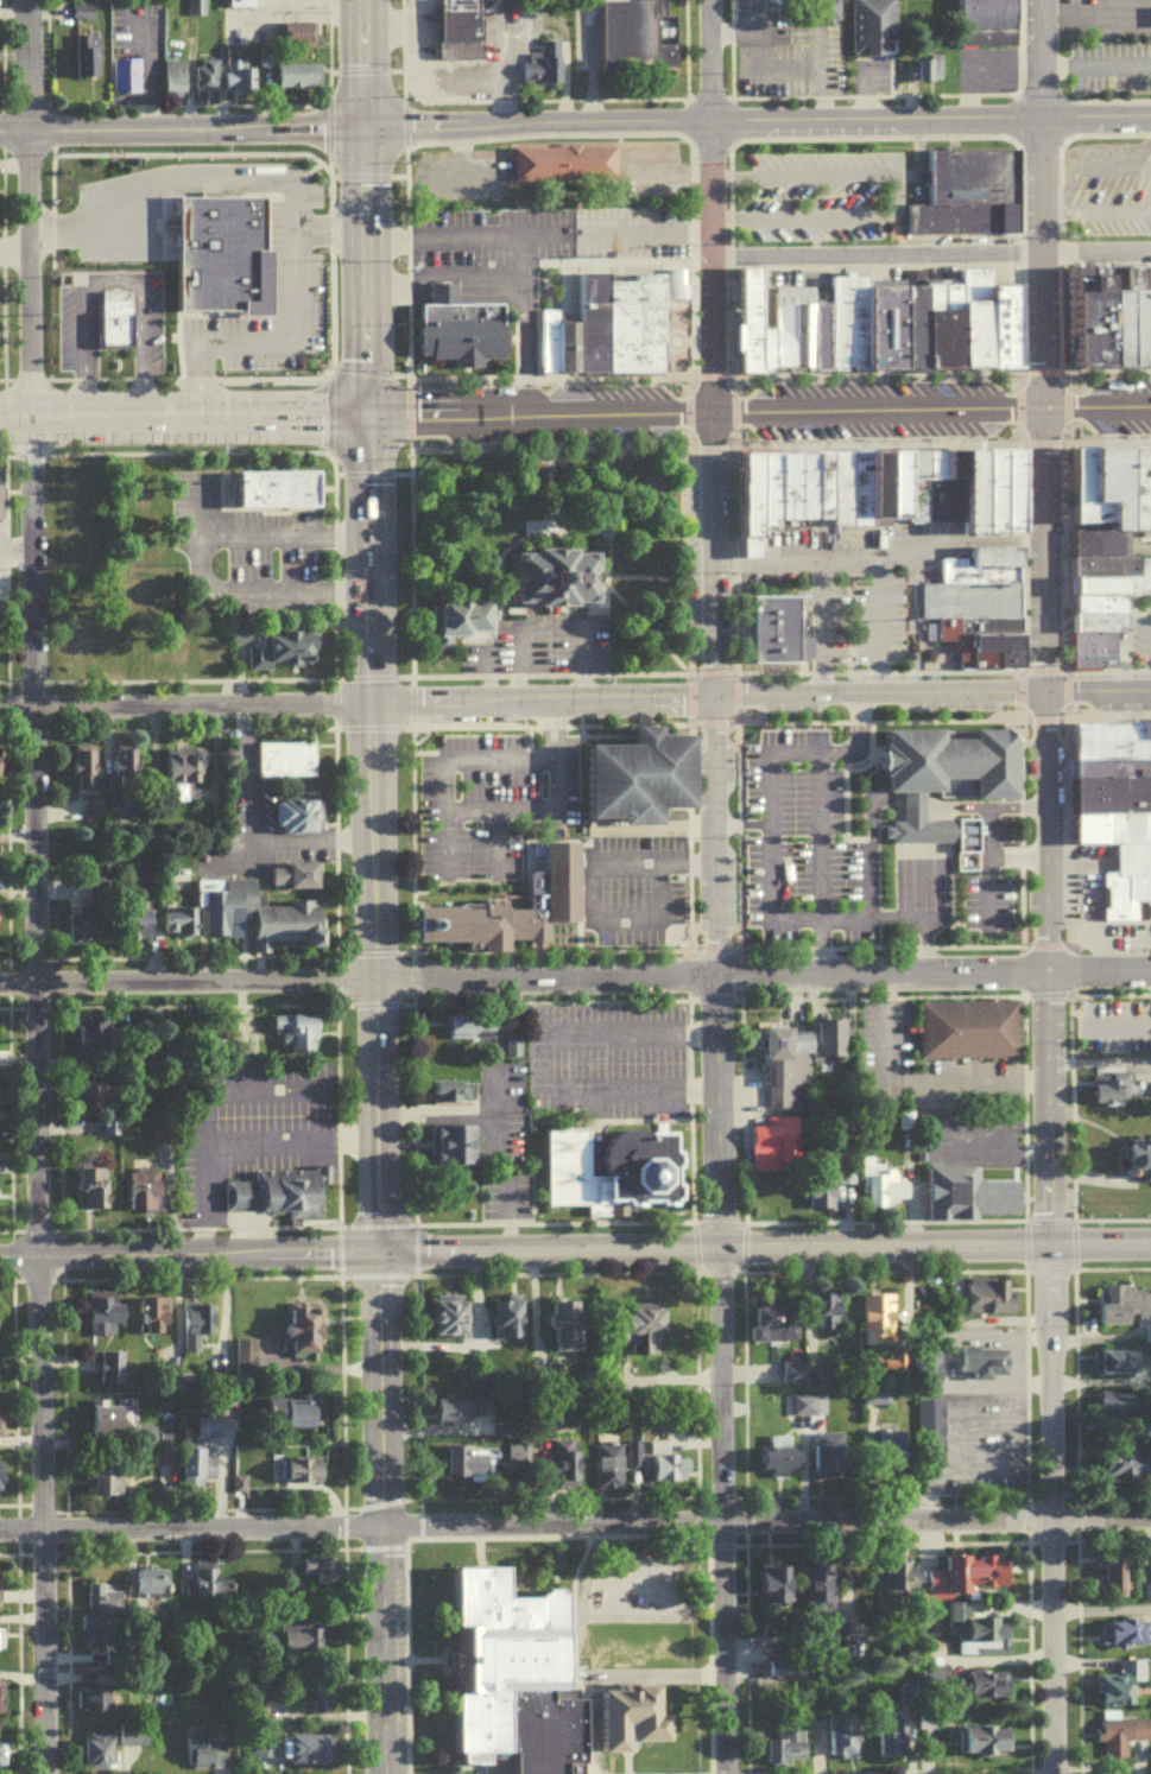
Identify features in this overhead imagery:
building: (239, 2)
building: (190, 6)
building: (76, 7)
road: (10, 9)
building: (822, 9)
building: (980, 13)
parking lot: (1099, 15)
building: (86, 18)
parking lot: (754, 18)
parking lot: (255, 19)
road: (1079, 19)
building: (866, 24)
building: (456, 28)
parking lot: (419, 30)
building: (292, 31)
parking lot: (584, 34)
building: (633, 34)
building: (967, 34)
building: (994, 34)
street lamp: (1108, 36)
road: (401, 40)
parking lot: (506, 40)
parking lot: (129, 43)
road: (1017, 45)
road: (42, 50)
road: (684, 50)
road: (729, 50)
road: (883, 51)
road: (10, 52)
building: (81, 55)
building: (260, 55)
road: (589, 61)
parking lot: (789, 61)
road: (974, 61)
road: (1095, 62)
road: (363, 63)
building: (538, 63)
parking lot: (1109, 64)
road: (887, 65)
parking lot: (982, 65)
building: (924, 68)
building: (292, 71)
parking lot: (868, 72)
building: (119, 74)
building: (202, 74)
building: (234, 75)
building: (169, 76)
building: (128, 81)
building: (301, 81)
road: (561, 81)
building: (177, 83)
road: (906, 88)
road: (182, 89)
road: (403, 91)
road: (871, 93)
road: (1043, 94)
road: (261, 95)
road: (708, 95)
road: (198, 96)
road: (120, 97)
road: (227, 97)
road: (543, 97)
road: (1111, 97)
road: (233, 103)
road: (0, 104)
road: (1070, 115)
road: (1094, 115)
road: (1014, 116)
road: (685, 120)
road: (700, 120)
road: (731, 123)
road: (182, 127)
traffic signals: (363, 127)
parking lot: (830, 128)
road: (647, 132)
road: (1037, 141)
road: (731, 144)
road: (708, 147)
building: (557, 161)
road: (10, 163)
building: (1108, 173)
parking lot: (1105, 184)
road: (290, 191)
parking lot: (818, 191)
road: (894, 191)
building: (963, 191)
road: (1038, 202)
road: (708, 203)
building: (140, 209)
road: (19, 210)
road: (650, 228)
road: (328, 230)
parking lot: (627, 230)
road: (523, 245)
parking lot: (488, 248)
road: (10, 253)
building: (219, 256)
road: (929, 256)
road: (1054, 258)
road: (366, 270)
road: (331, 272)
road: (444, 273)
road: (109, 278)
road: (436, 280)
building: (671, 280)
road: (388, 290)
road: (436, 290)
road: (463, 291)
building: (1145, 313)
building: (112, 316)
building: (968, 317)
building: (1121, 317)
building: (1084, 318)
road: (536, 322)
building: (845, 322)
building: (744, 323)
building: (790, 324)
building: (611, 325)
building: (937, 325)
building: (456, 327)
building: (891, 329)
building: (998, 329)
building: (817, 334)
building: (258, 337)
building: (545, 337)
building: (764, 348)
road: (1035, 370)
road: (708, 373)
road: (473, 375)
street lamp: (1100, 376)
street lamp: (1136, 376)
road: (4, 378)
road: (182, 378)
road: (1060, 404)
road: (1095, 405)
road: (689, 406)
road: (1016, 406)
road: (406, 407)
road: (703, 408)
road: (734, 408)
traffic signals: (367, 412)
road: (183, 416)
road: (1041, 423)
road: (710, 424)
street lamp: (1105, 438)
street lamp: (1140, 438)
road: (1029, 439)
road: (1052, 439)
road: (549, 441)
road: (701, 441)
road: (723, 441)
road: (292, 450)
road: (2, 454)
road: (21, 454)
road: (331, 471)
road: (361, 471)
road: (398, 471)
building: (1106, 483)
building: (821, 484)
building: (877, 484)
building: (912, 484)
building: (840, 486)
building: (894, 486)
building: (930, 486)
building: (949, 486)
building: (859, 487)
building: (784, 488)
building: (803, 488)
building: (1136, 489)
building: (272, 490)
building: (755, 490)
building: (1080, 490)
building: (997, 493)
building: (968, 494)
building: (2, 500)
road: (280, 533)
road: (12, 541)
building: (747, 543)
building: (1093, 543)
road: (1141, 546)
road: (878, 553)
road: (1043, 553)
road: (713, 555)
road: (1063, 555)
road: (410, 557)
road: (25, 560)
building: (980, 564)
building: (1109, 565)
road: (643, 574)
building: (548, 577)
parking lot: (858, 584)
building: (1111, 584)
road: (230, 589)
road: (601, 593)
building: (968, 598)
building: (1095, 604)
building: (463, 615)
road: (0, 616)
road: (647, 621)
building: (1094, 622)
road: (817, 625)
road: (872, 626)
building: (774, 632)
building: (974, 640)
parking lot: (1139, 640)
parking lot: (544, 645)
building: (1092, 647)
road: (1147, 651)
building: (284, 654)
road: (668, 670)
road: (702, 670)
road: (1020, 670)
road: (1032, 670)
road: (1054, 670)
road: (726, 671)
road: (186, 678)
road: (6, 680)
road: (1065, 691)
road: (707, 692)
road: (1020, 692)
road: (1096, 692)
road: (736, 693)
road: (690, 695)
road: (412, 699)
road: (184, 702)
road: (1043, 717)
road: (713, 720)
road: (853, 736)
building: (1112, 739)
road: (765, 752)
building: (285, 756)
building: (129, 766)
building: (1113, 766)
road: (245, 769)
building: (186, 773)
building: (0, 774)
building: (87, 774)
building: (635, 780)
building: (944, 781)
building: (1113, 793)
parking lot: (489, 800)
road: (472, 803)
building: (295, 815)
road: (715, 821)
building: (1112, 826)
road: (740, 828)
road: (1065, 828)
road: (372, 834)
road: (309, 838)
road: (328, 841)
road: (1, 842)
building: (1126, 880)
road: (584, 881)
building: (297, 883)
parking lot: (632, 886)
building: (552, 887)
road: (894, 920)
building: (257, 921)
building: (181, 926)
building: (84, 930)
building: (141, 931)
road: (1020, 943)
road: (1044, 943)
road: (714, 946)
road: (816, 946)
road: (411, 949)
road: (401, 950)
road: (362, 951)
road: (186, 955)
road: (26, 957)
road: (6, 958)
road: (987, 969)
road: (1098, 969)
road: (330, 974)
road: (463, 977)
road: (1, 978)
road: (1112, 993)
road: (1049, 994)
road: (542, 1000)
road: (366, 1002)
road: (191, 1005)
road: (7, 1007)
road: (30, 1007)
building: (473, 1033)
building: (973, 1037)
building: (301, 1040)
building: (96, 1041)
building: (835, 1045)
building: (791, 1076)
road: (913, 1083)
road: (232, 1085)
building: (1113, 1094)
building: (455, 1097)
building: (97, 1100)
road: (330, 1105)
road: (1026, 1107)
road: (406, 1108)
road: (717, 1111)
road: (2, 1114)
road: (234, 1146)
building: (778, 1151)
building: (458, 1152)
building: (1138, 1162)
building: (618, 1177)
building: (272, 1190)
building: (95, 1196)
building: (147, 1196)
building: (823, 1202)
building: (892, 1203)
building: (976, 1203)
road: (499, 1217)
road: (549, 1221)
road: (1045, 1222)
road: (7, 1229)
road: (30, 1229)
road: (31, 1238)
road: (1099, 1243)
road: (884, 1248)
road: (546, 1254)
road: (185, 1257)
traffic signals: (373, 1257)
building: (991, 1303)
building: (1124, 1311)
building: (829, 1316)
building: (878, 1320)
building: (107, 1322)
building: (158, 1323)
building: (453, 1323)
building: (510, 1323)
building: (647, 1326)
building: (567, 1330)
building: (777, 1330)
building: (197, 1331)
building: (305, 1337)
road: (941, 1358)
building: (246, 1366)
road: (311, 1366)
building: (1119, 1368)
building: (987, 1369)
building: (113, 1375)
building: (1119, 1411)
building: (464, 1418)
building: (292, 1419)
building: (928, 1421)
building: (113, 1428)
building: (0, 1433)
building: (198, 1459)
building: (829, 1462)
building: (892, 1466)
road: (986, 1466)
building: (783, 1468)
building: (468, 1470)
building: (564, 1470)
building: (1130, 1471)
building: (609, 1472)
building: (672, 1476)
building: (305, 1477)
building: (1, 1483)
building: (108, 1488)
road: (721, 1513)
road: (381, 1515)
road: (1100, 1520)
road: (524, 1527)
building: (322, 1577)
building: (969, 1583)
building: (778, 1588)
building: (211, 1589)
building: (902, 1589)
building: (822, 1591)
building: (152, 1592)
building: (1146, 1597)
road: (1100, 1607)
building: (100, 1618)
building: (1126, 1639)
building: (302, 1641)
building: (987, 1643)
building: (0, 1645)
building: (506, 1685)
building: (1121, 1690)
building: (987, 1692)
building: (309, 1700)
building: (1, 1702)
building: (625, 1731)
building: (133, 1742)
building: (1122, 1742)
building: (843, 1743)
building: (987, 1747)
building: (786, 1751)
building: (97, 1754)
building: (308, 1754)
building: (208, 1757)
building: (1, 1760)

